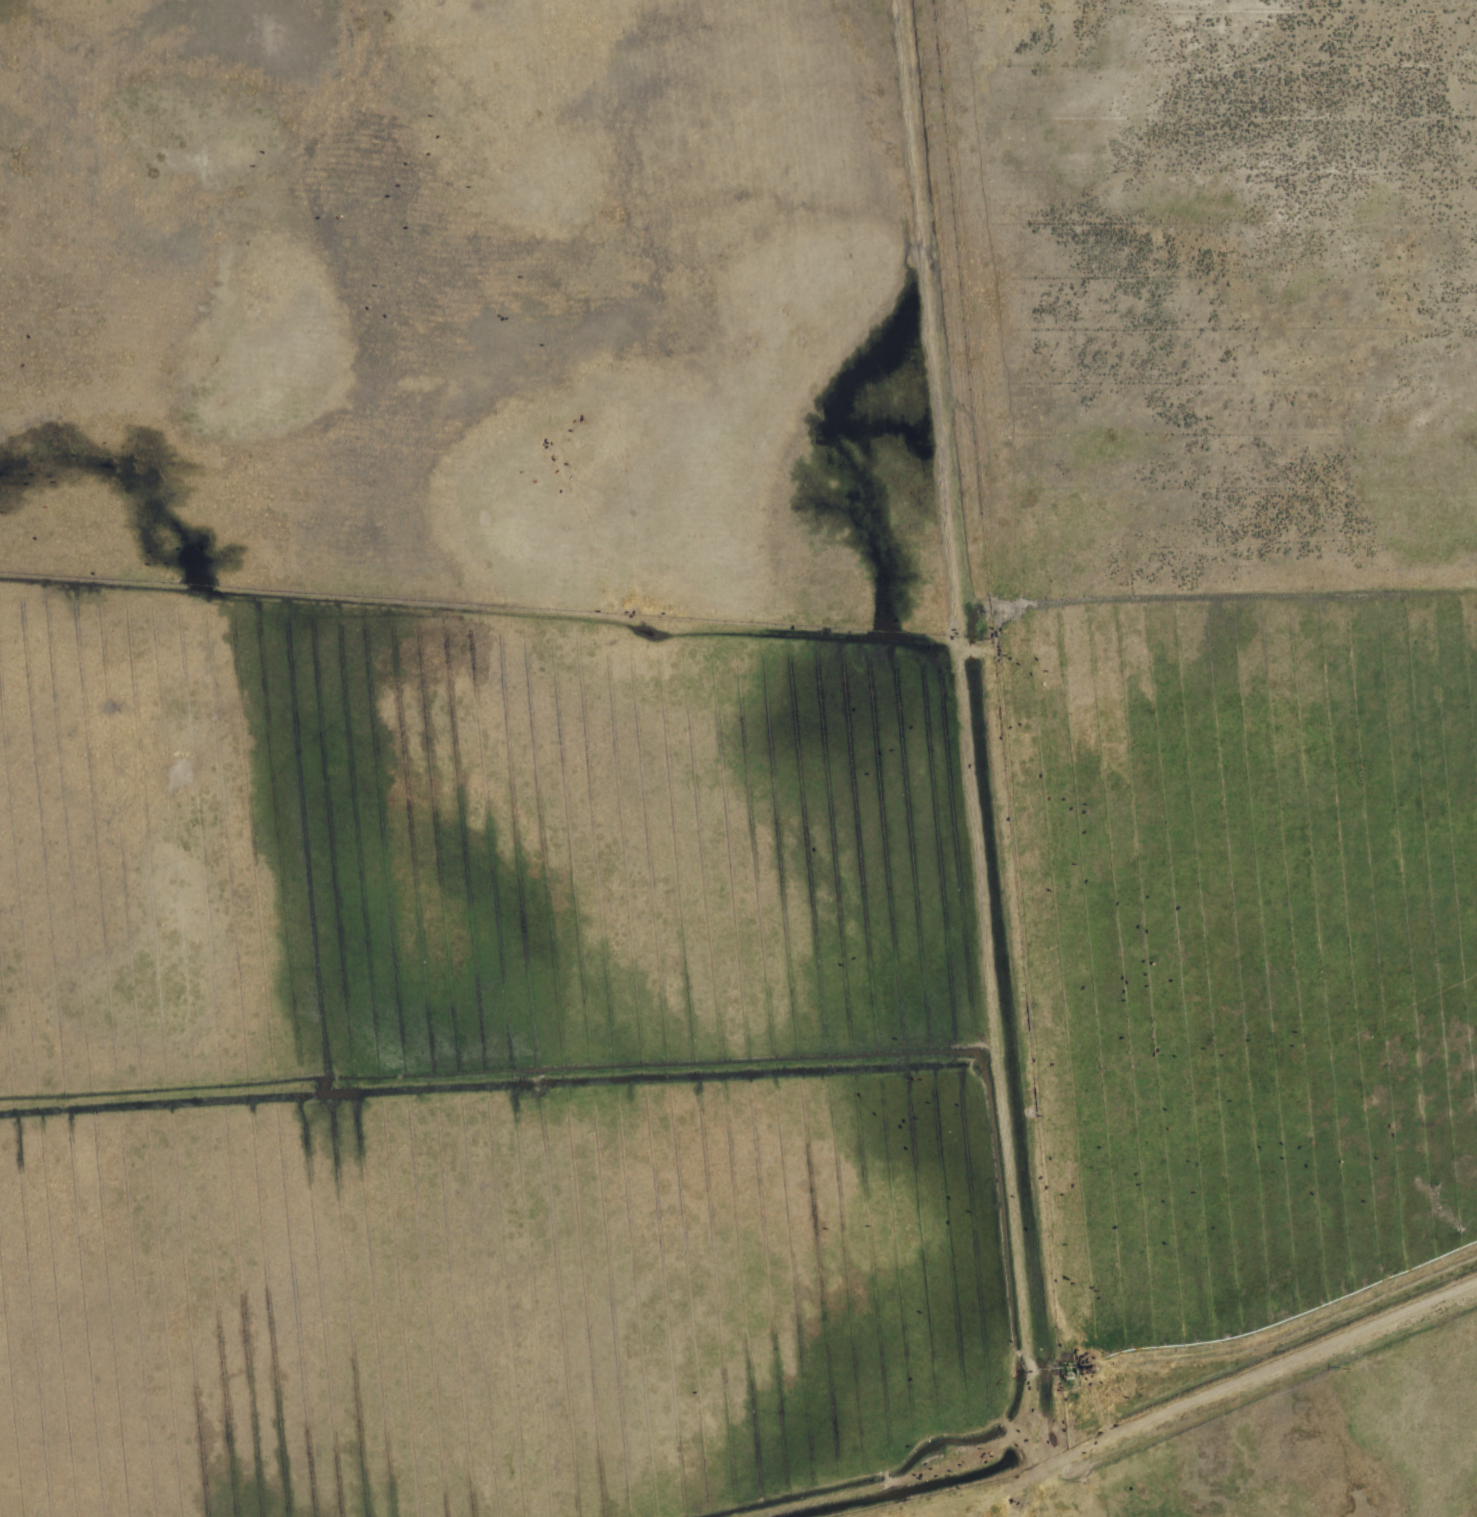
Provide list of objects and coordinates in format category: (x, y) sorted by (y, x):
crop: (741, 306)
crop: (716, 1051)
road: (1268, 1372)
crop: (1314, 1455)

